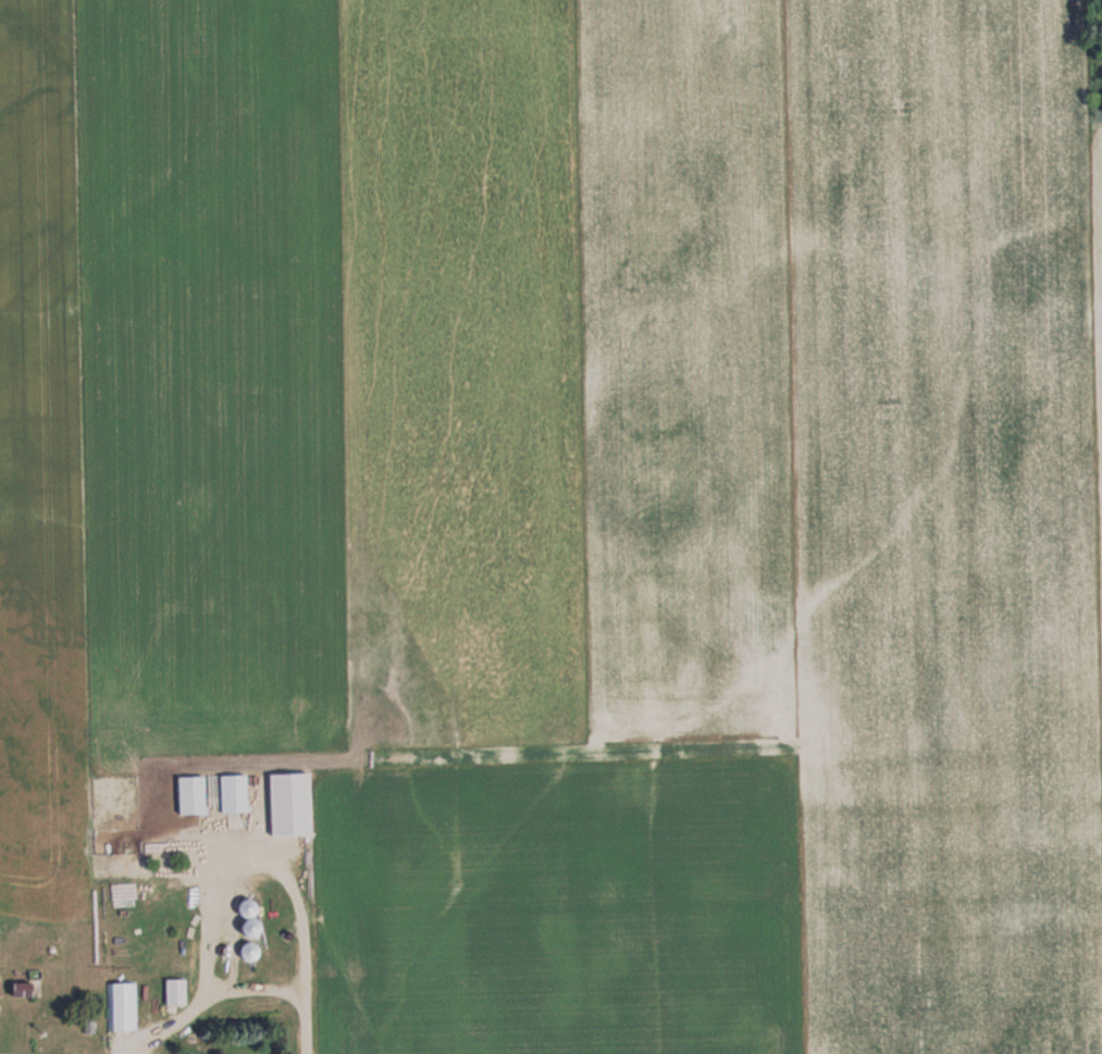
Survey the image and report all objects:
building: (189, 793)
building: (248, 951)
building: (21, 989)
building: (174, 991)
building: (121, 1005)

